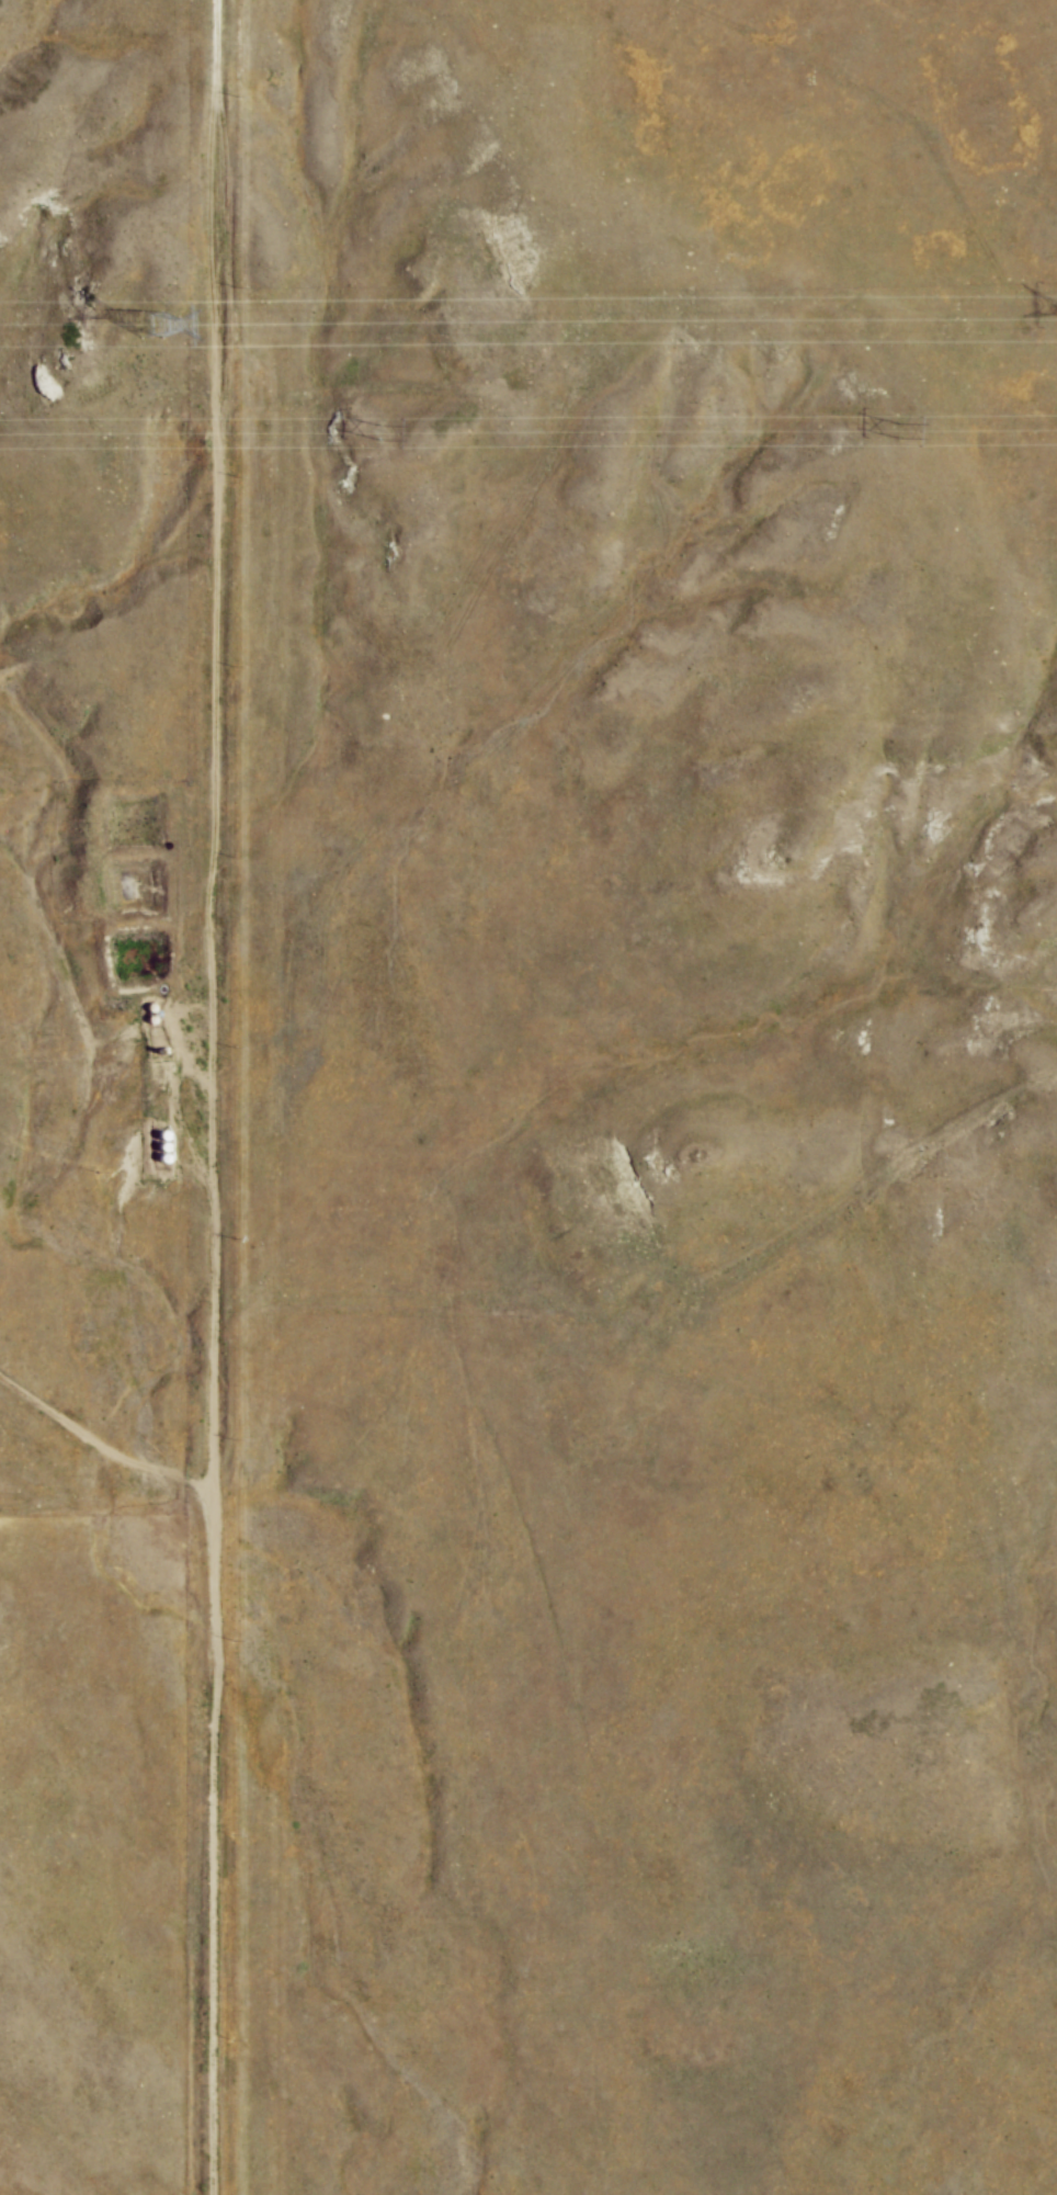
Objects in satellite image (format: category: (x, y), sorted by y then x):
power tower: (150, 323)
power tower: (898, 426)
power tower: (380, 431)
road: (219, 1097)
building: (163, 1149)
road: (107, 1444)

